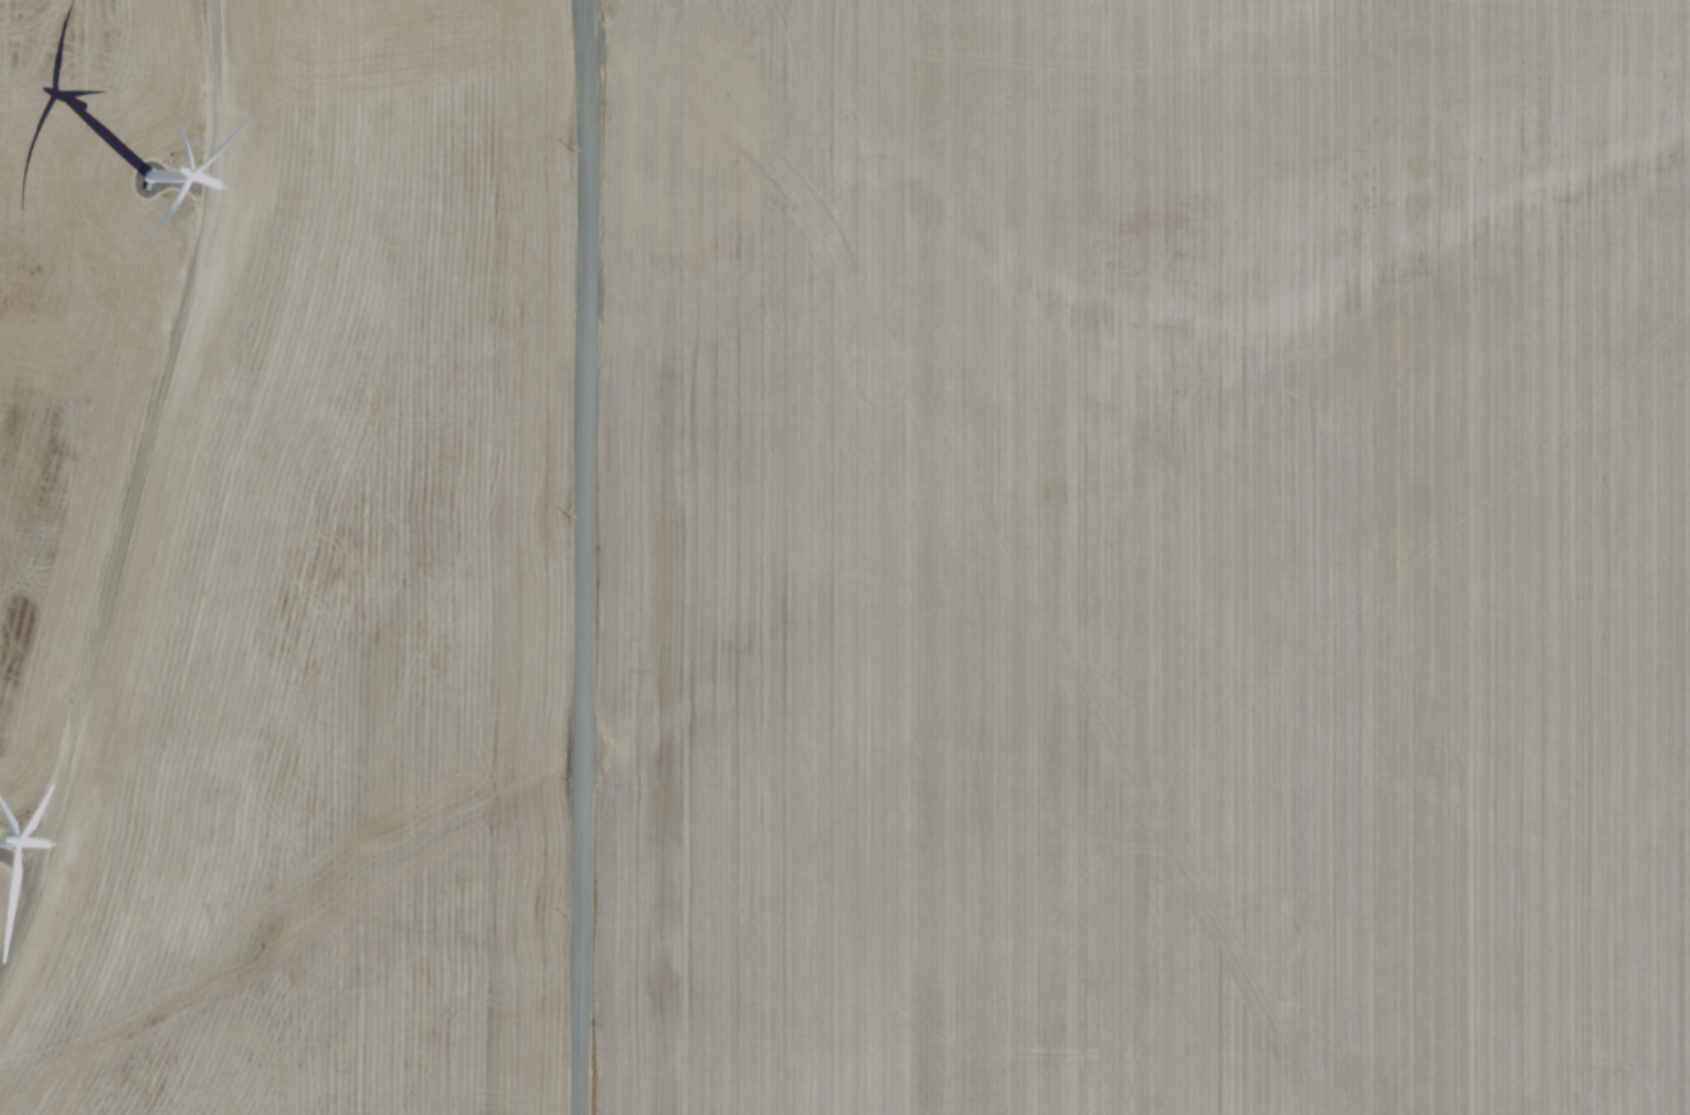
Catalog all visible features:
wind turbine: (129, 177)
road: (585, 557)

